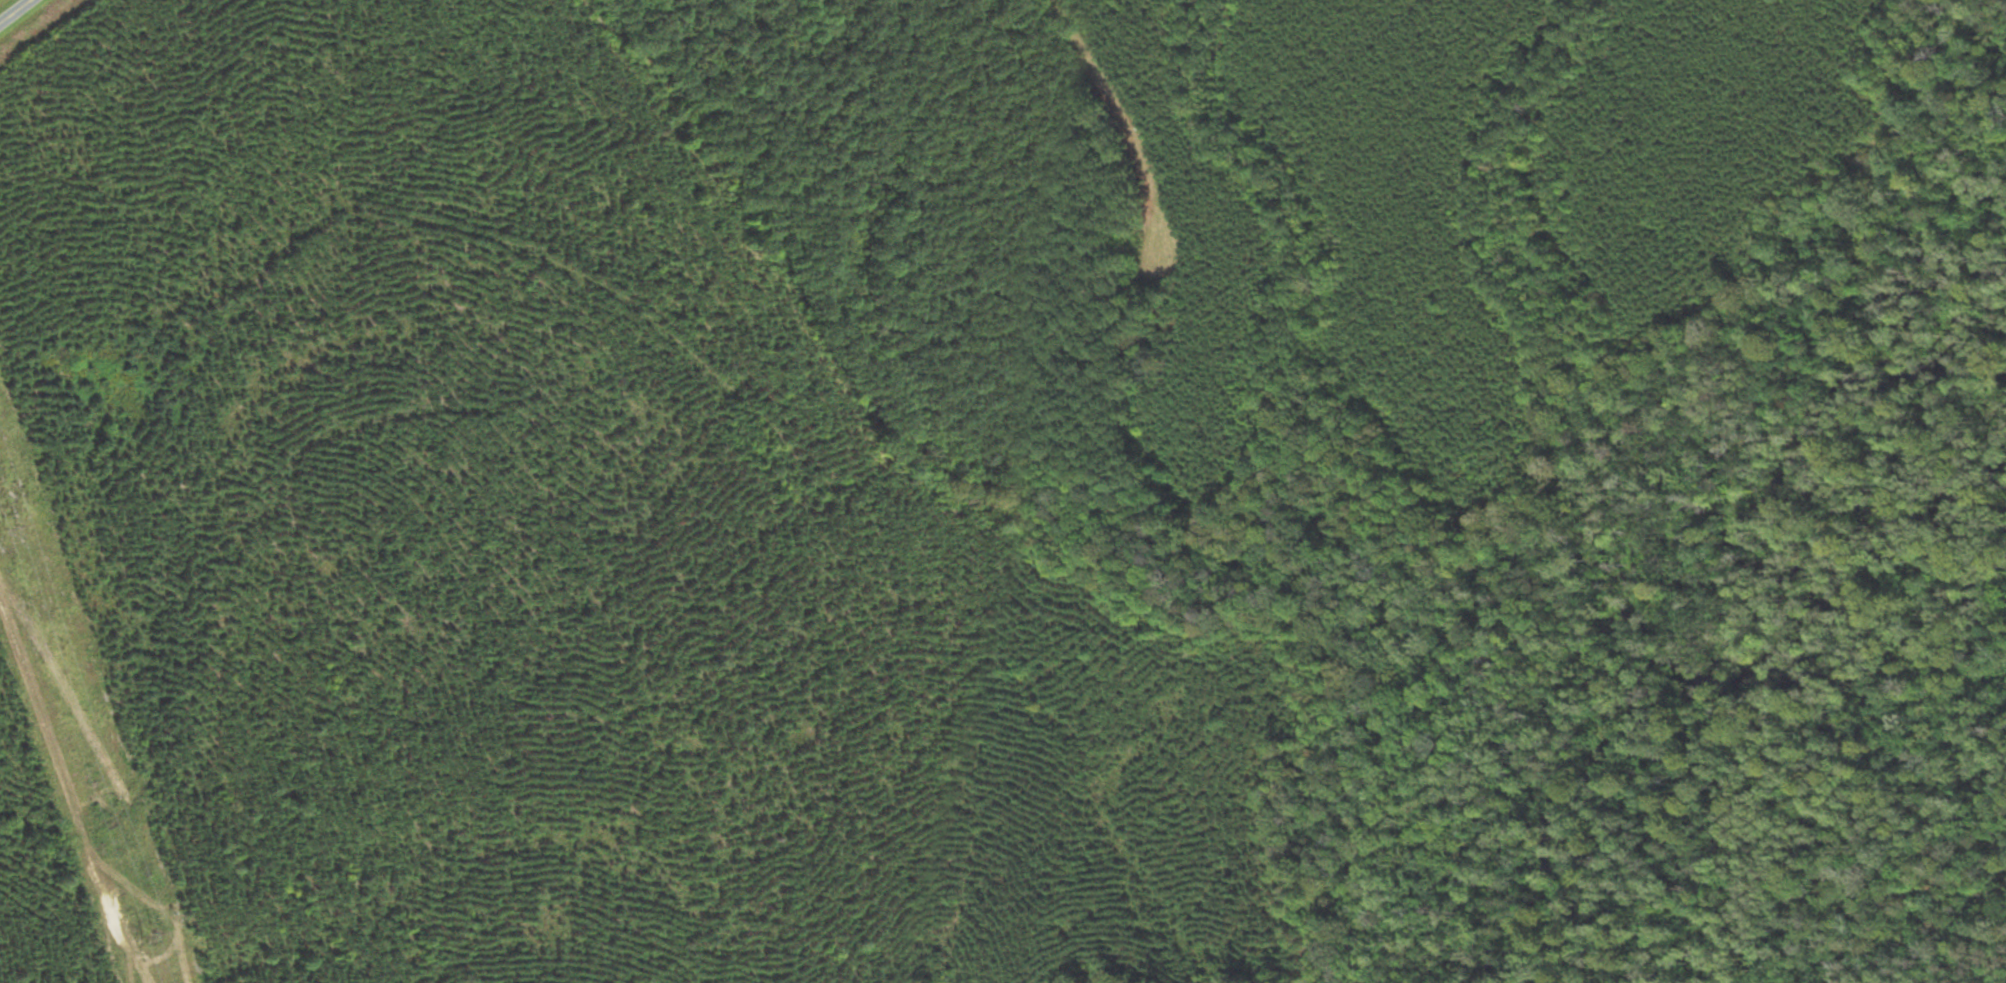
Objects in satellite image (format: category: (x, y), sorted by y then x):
road: (13, 10)
power tower: (4, 527)
power tower: (136, 935)

